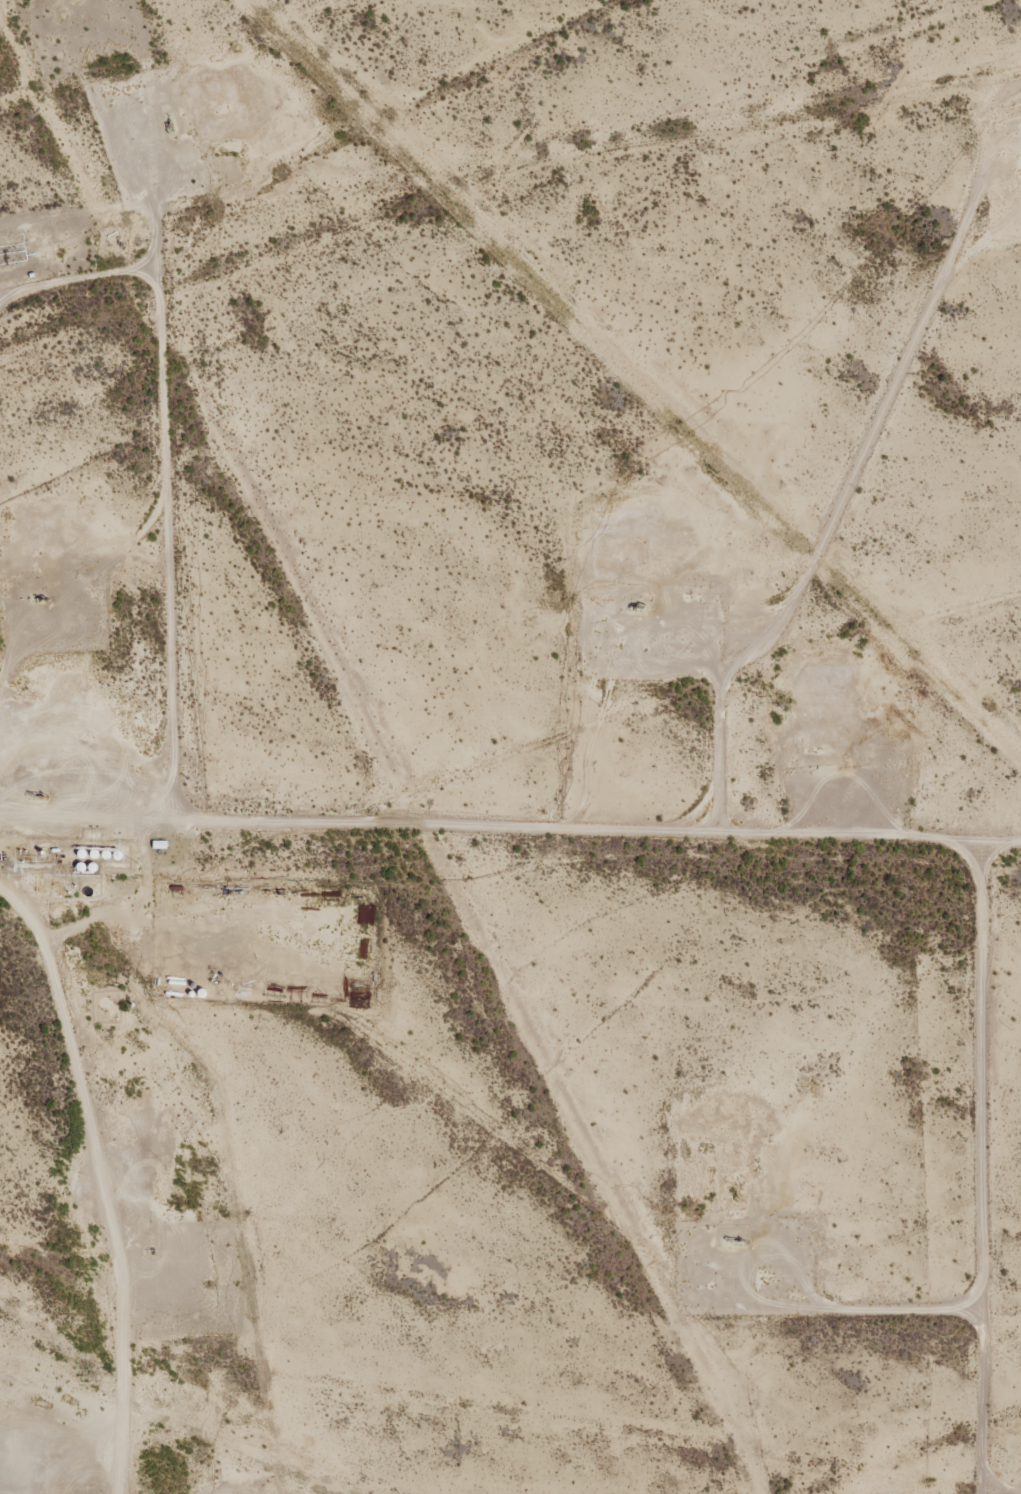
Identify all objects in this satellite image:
road: (106, 1400)

